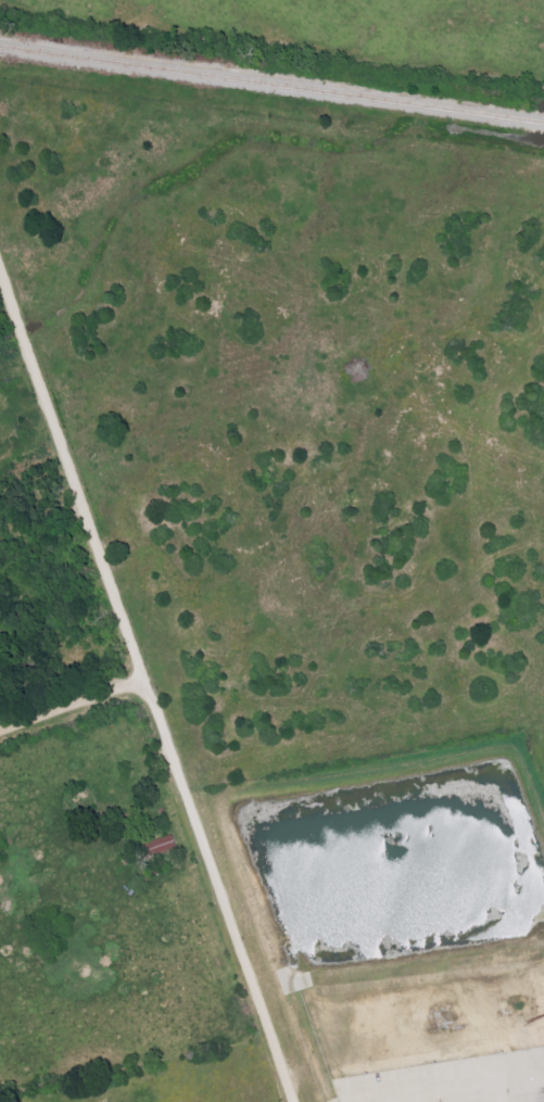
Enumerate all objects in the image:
railway: (271, 85)
road: (143, 693)
road: (71, 708)
building: (162, 846)

